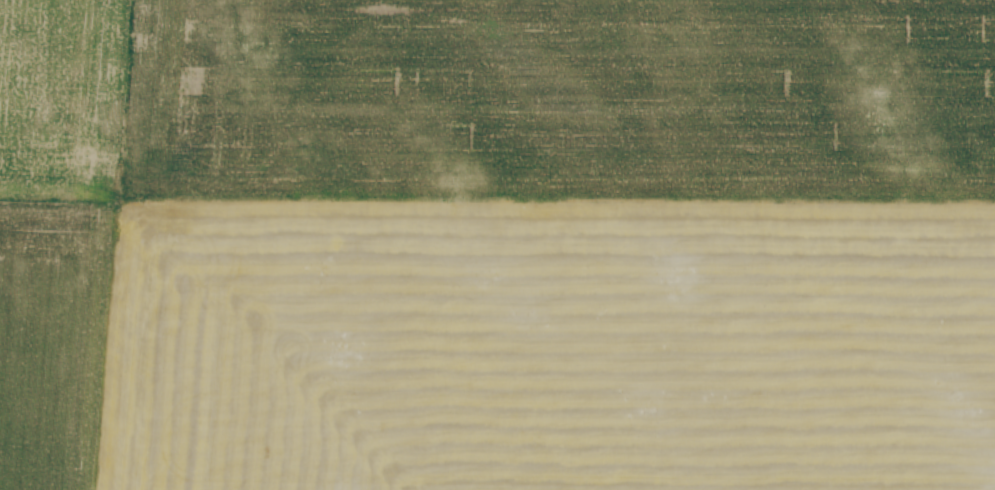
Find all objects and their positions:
crop: (497, 245)

